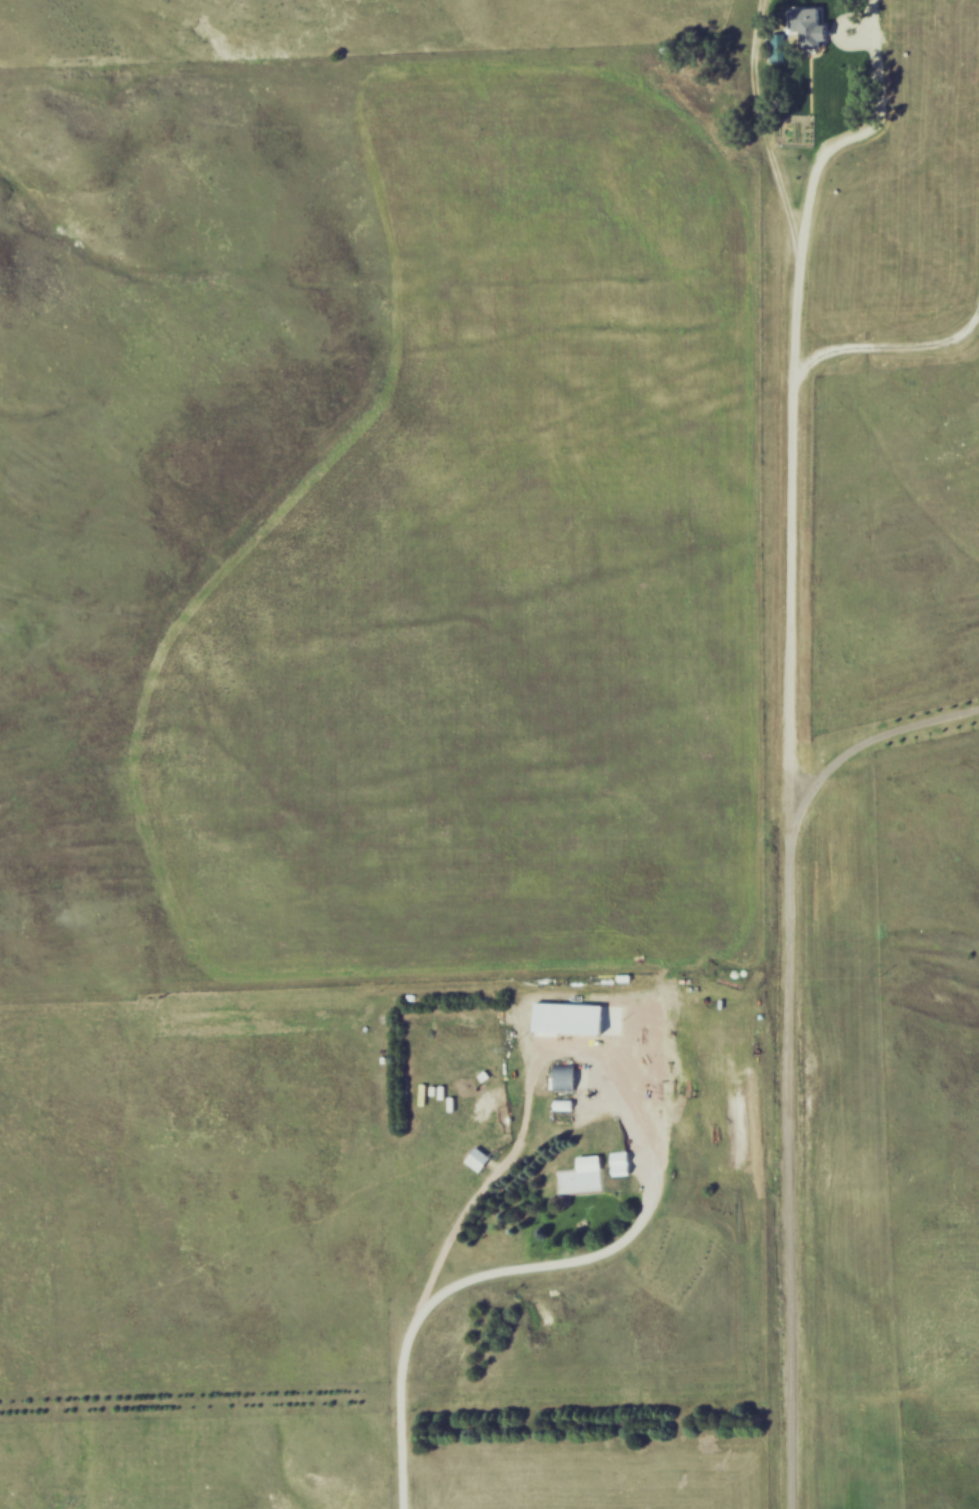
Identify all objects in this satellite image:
building: (818, 28)
building: (782, 46)
road: (788, 788)
building: (569, 1076)
building: (625, 1161)
building: (589, 1173)
road: (516, 1275)

